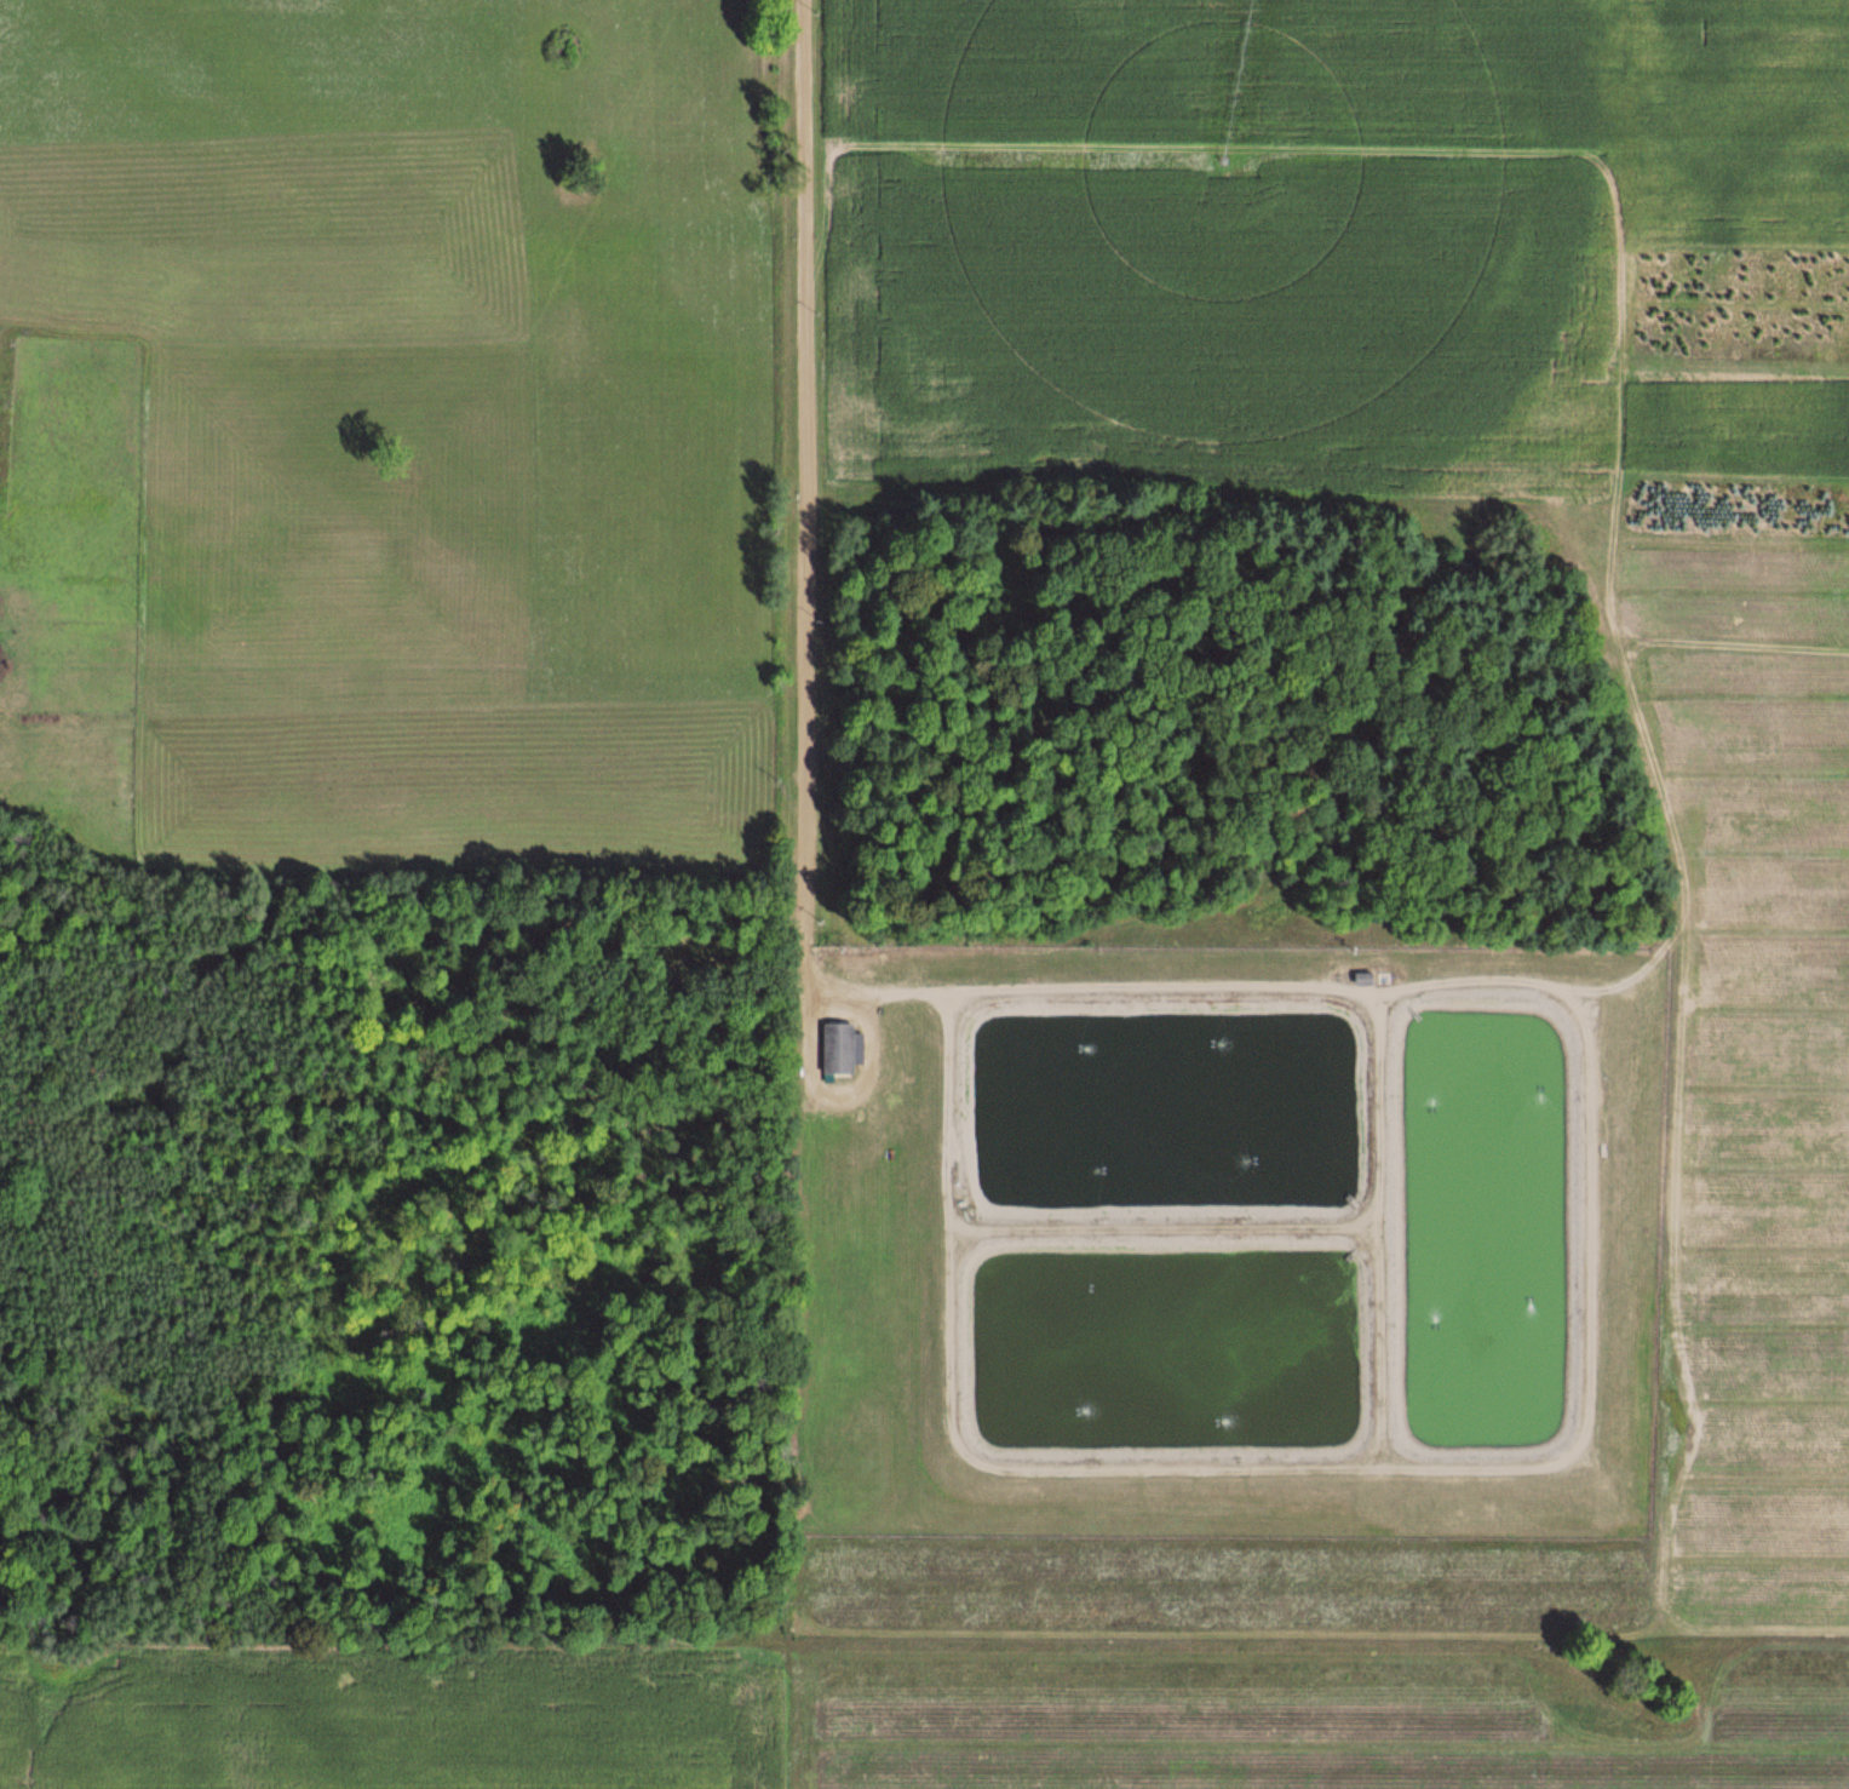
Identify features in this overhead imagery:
road: (799, 499)
building: (838, 1047)
wastewater plant: (1227, 1237)

